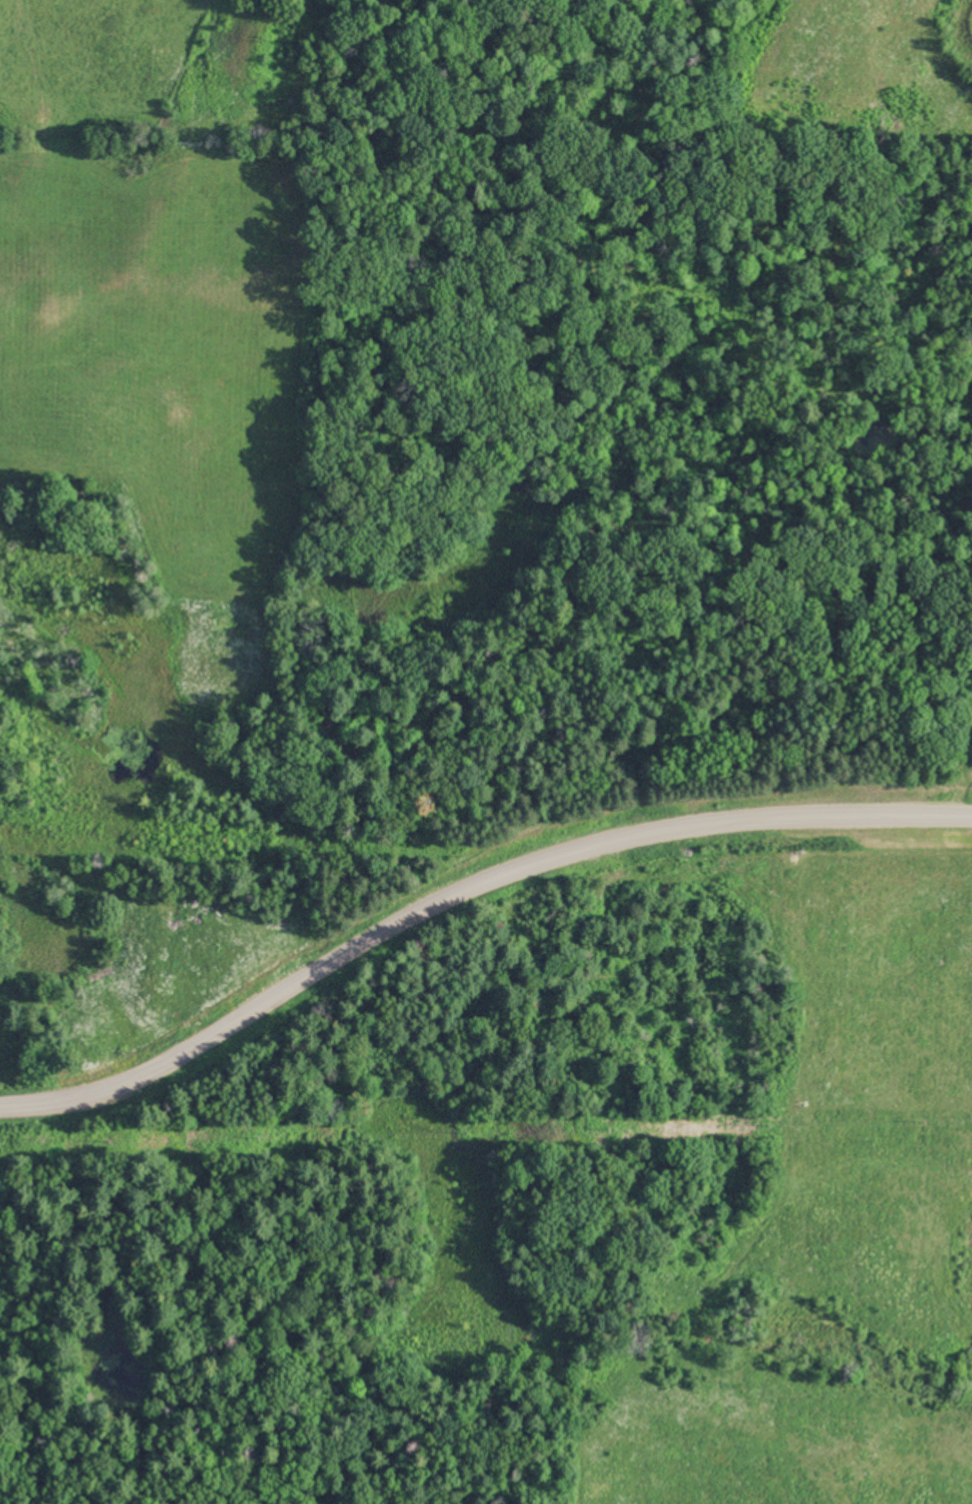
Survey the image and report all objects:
road: (464, 895)

